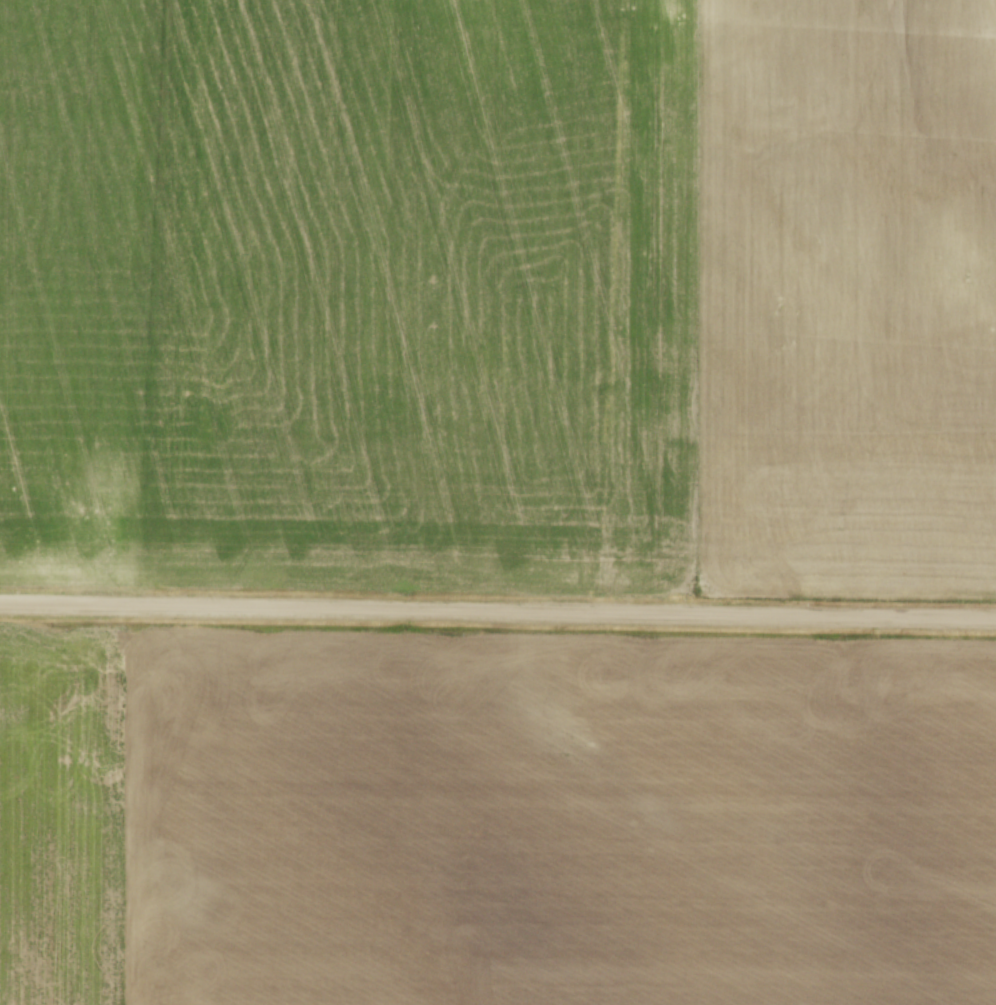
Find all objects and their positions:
crop: (500, 295)
road: (497, 609)
crop: (493, 816)

